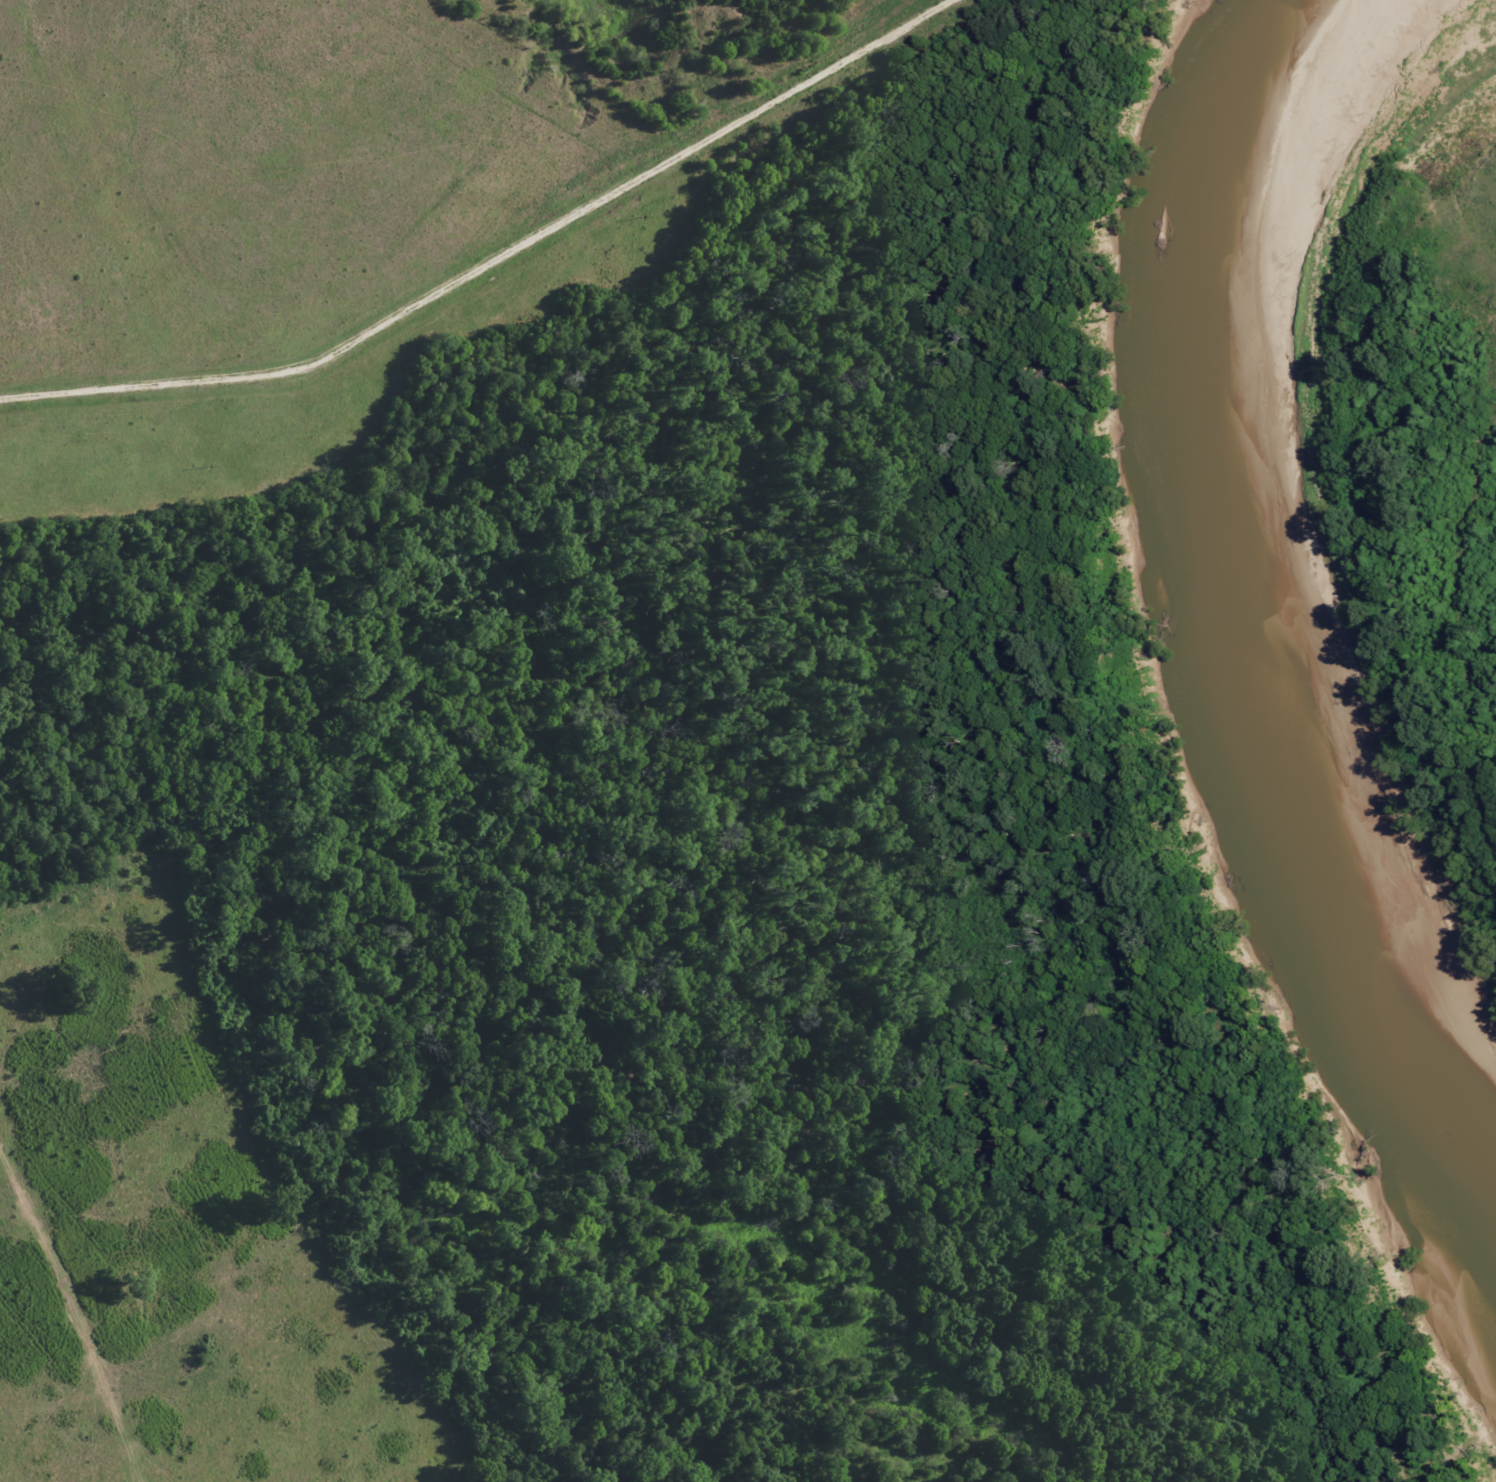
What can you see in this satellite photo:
river: (1253, 642)

